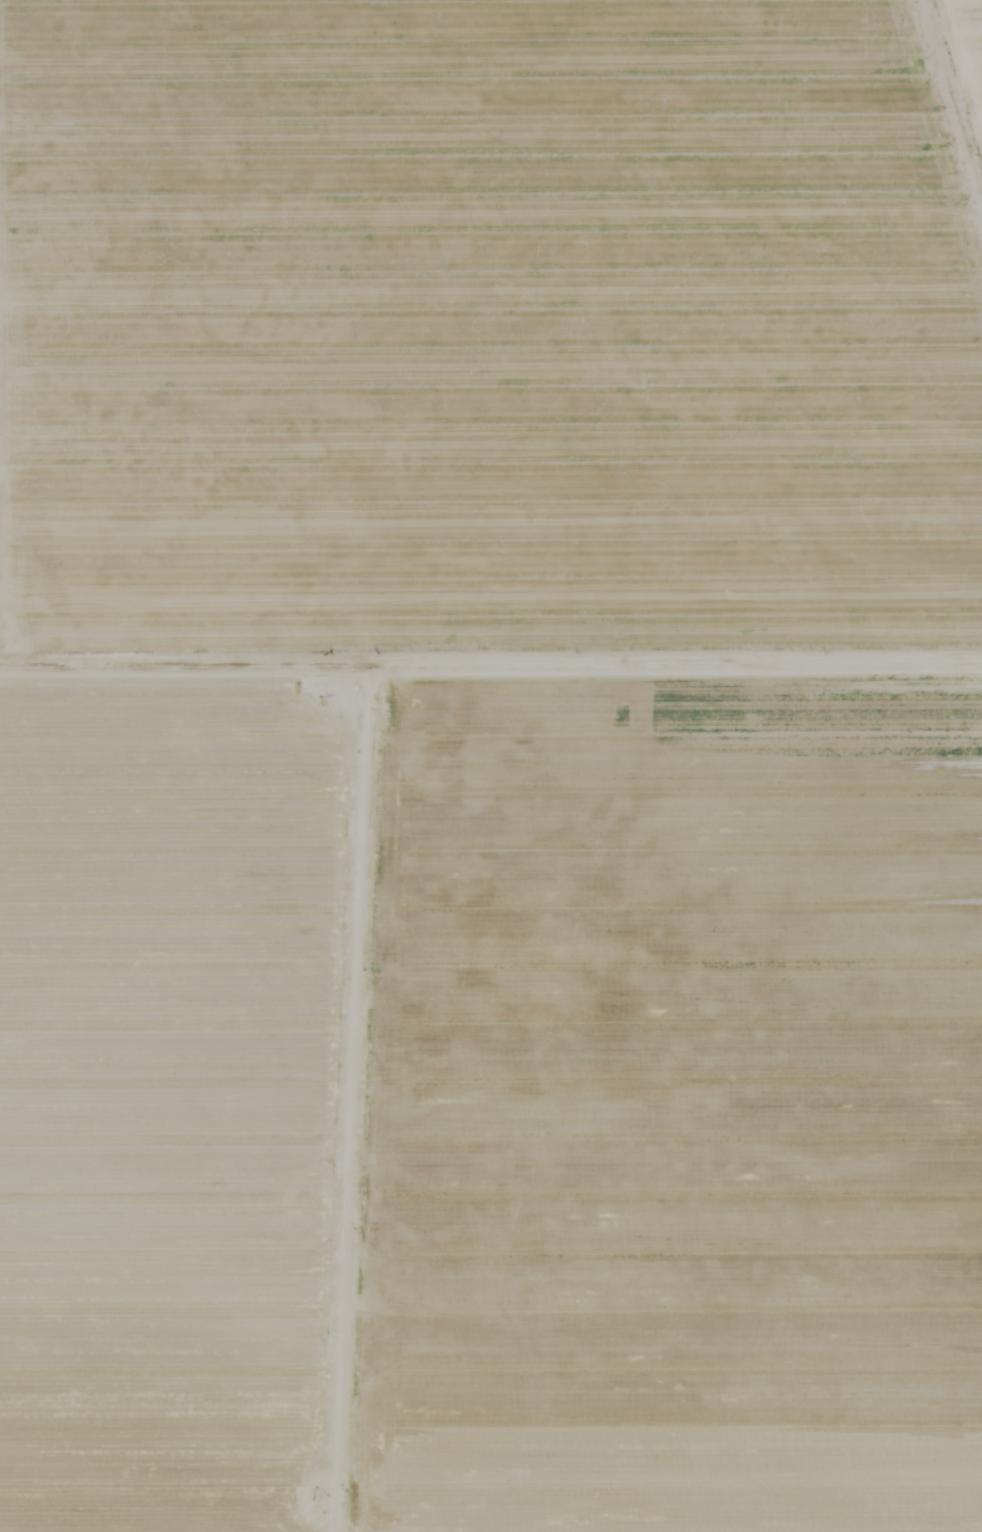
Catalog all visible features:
road: (971, 73)
road: (203, 665)
crop: (491, 766)
road: (386, 806)

